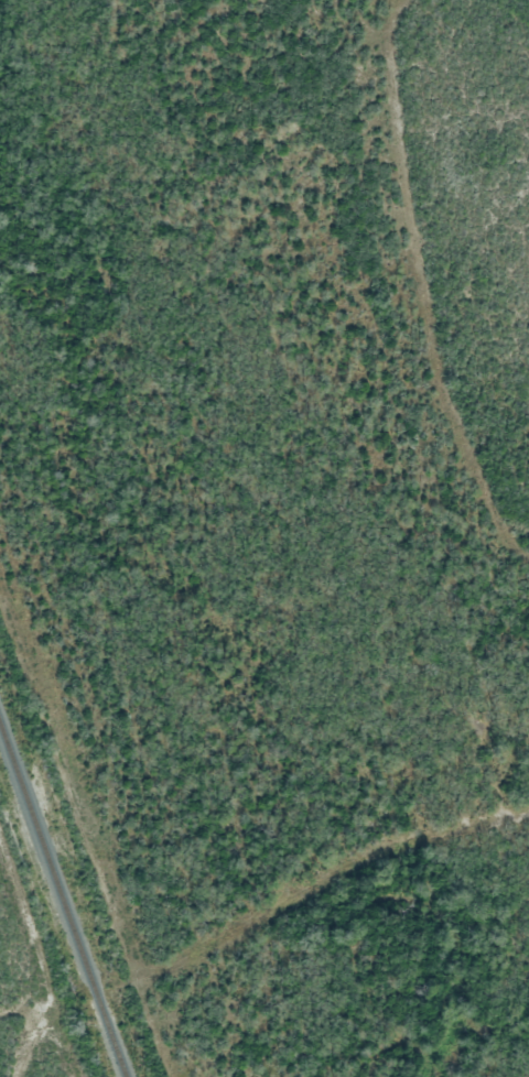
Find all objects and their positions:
railway: (62, 902)
road: (283, 902)
road: (17, 954)

